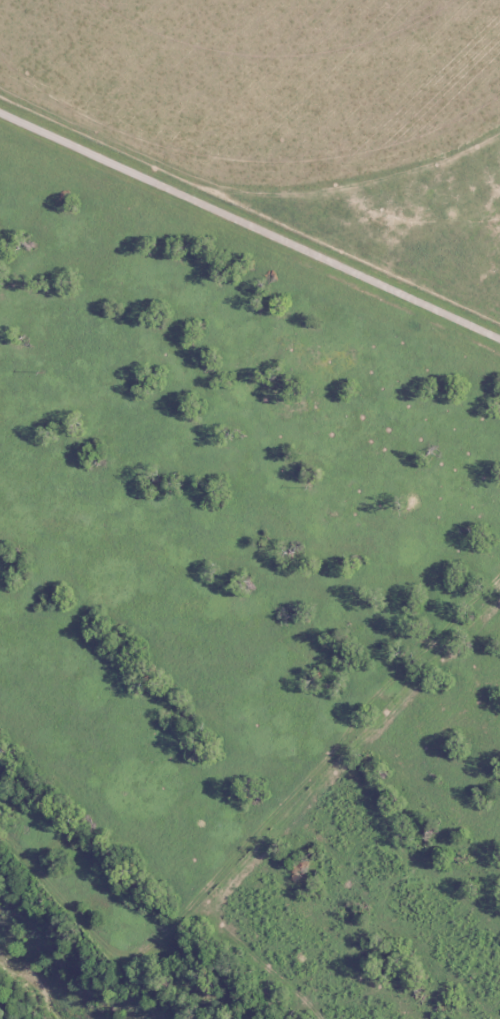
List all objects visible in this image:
road: (250, 292)
river: (27, 991)

